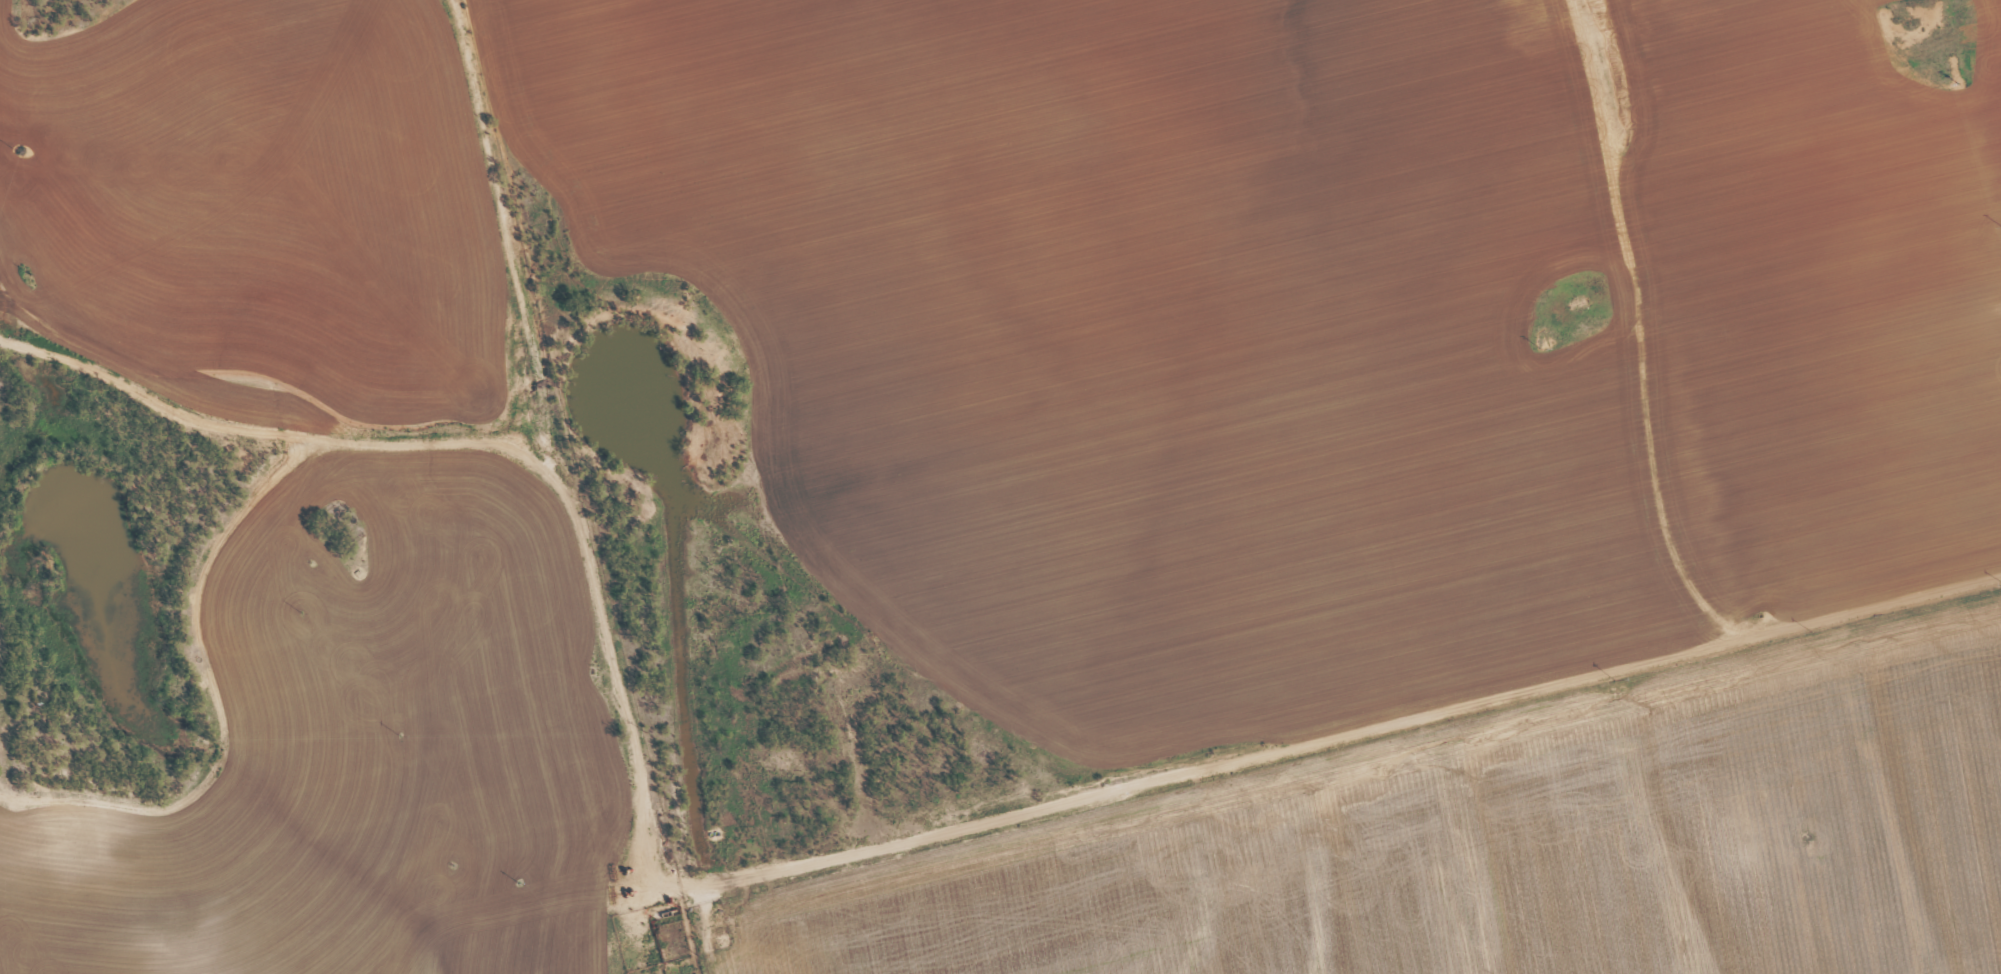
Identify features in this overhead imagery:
road: (1974, 105)
road: (525, 217)
road: (339, 557)
road: (955, 809)

